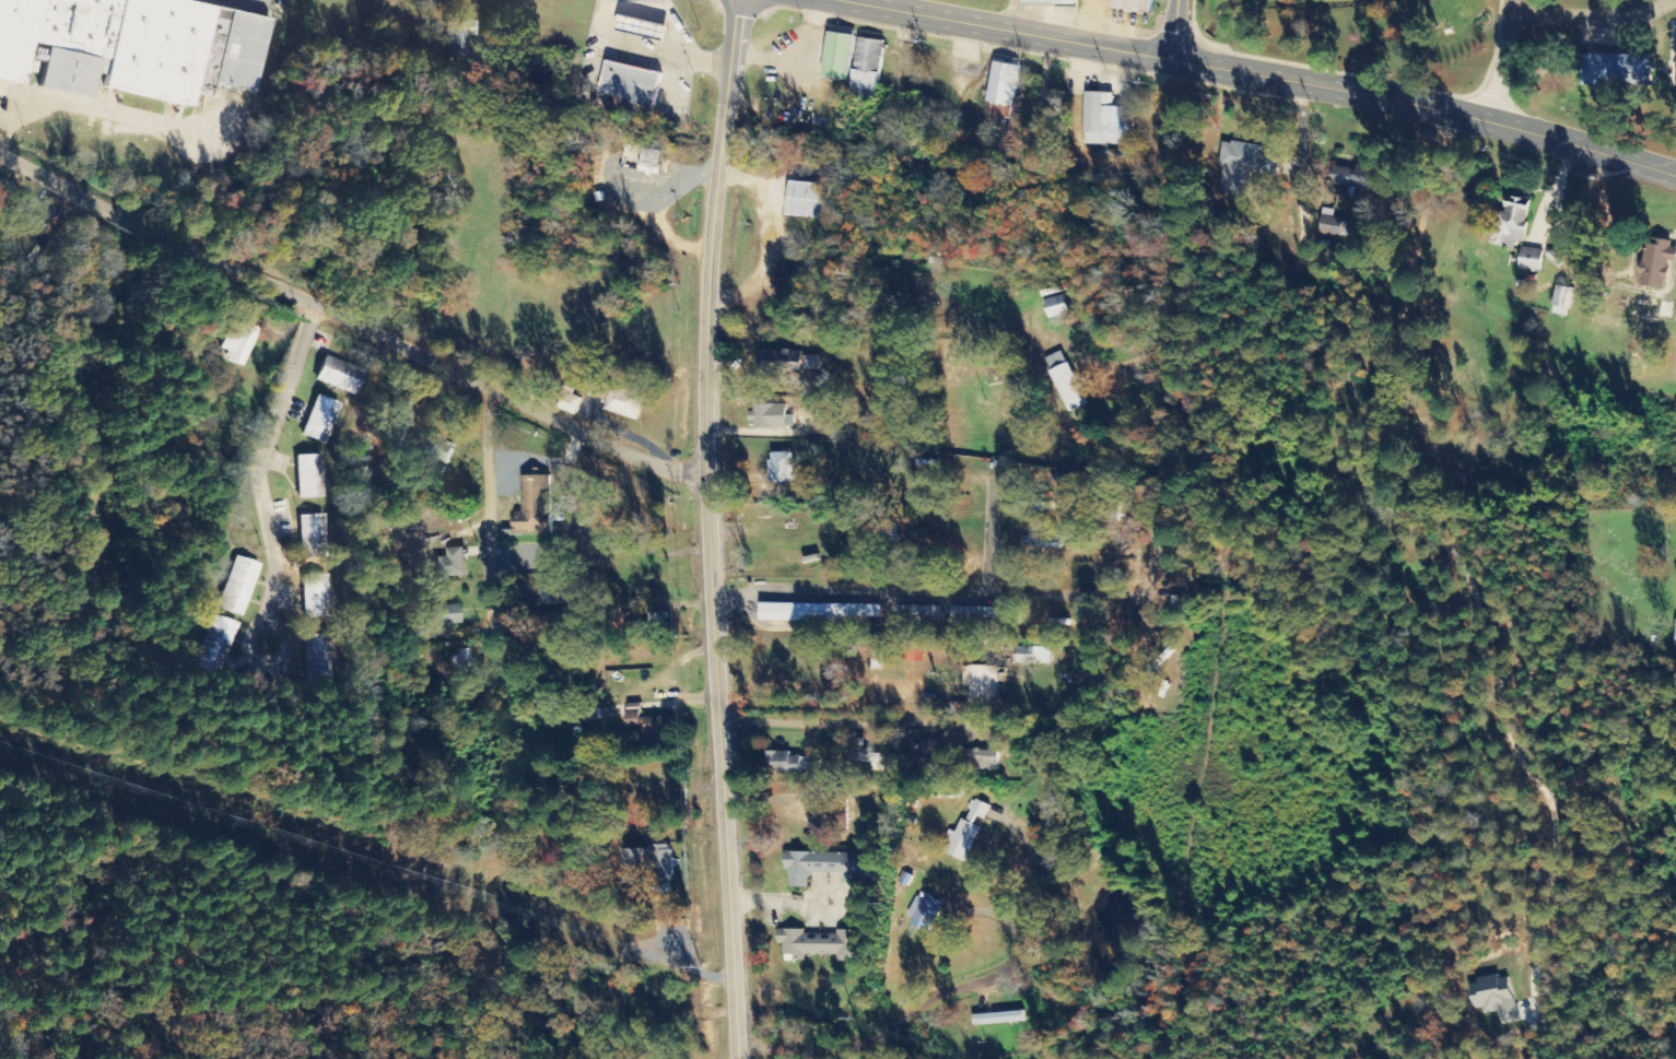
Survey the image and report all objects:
road: (653, 0)
road: (655, 0)
building: (1050, 1)
road: (247, 2)
building: (1133, 4)
road: (1013, 10)
road: (1594, 19)
road: (667, 21)
road: (1029, 22)
road: (1177, 24)
building: (457, 37)
building: (57, 40)
road: (652, 44)
building: (155, 49)
building: (209, 50)
building: (238, 50)
building: (837, 56)
road: (1503, 61)
building: (868, 64)
building: (1616, 70)
road: (673, 74)
building: (630, 83)
building: (1000, 90)
road: (1427, 107)
building: (1246, 160)
building: (1359, 177)
building: (5, 187)
building: (808, 200)
road: (1163, 215)
building: (1509, 224)
building: (1531, 259)
building: (1656, 259)
building: (1562, 301)
building: (1055, 306)
road: (350, 321)
building: (238, 343)
building: (777, 362)
building: (809, 363)
building: (339, 375)
building: (1064, 381)
building: (619, 399)
building: (569, 400)
building: (770, 416)
building: (319, 420)
building: (396, 437)
building: (438, 450)
building: (781, 468)
building: (308, 476)
building: (534, 506)
road: (267, 519)
road: (708, 528)
road: (989, 530)
road: (488, 533)
building: (888, 533)
building: (312, 536)
building: (450, 564)
building: (521, 564)
road: (1113, 577)
building: (238, 587)
road: (912, 590)
building: (315, 597)
building: (814, 612)
building: (916, 614)
building: (976, 616)
building: (441, 619)
building: (1675, 643)
building: (218, 645)
building: (1033, 656)
building: (318, 657)
building: (876, 658)
building: (984, 685)
road: (909, 723)
building: (646, 725)
building: (866, 755)
building: (985, 760)
building: (786, 763)
building: (841, 815)
building: (965, 832)
building: (648, 864)
building: (824, 867)
building: (924, 913)
building: (1492, 998)
building: (997, 1019)

